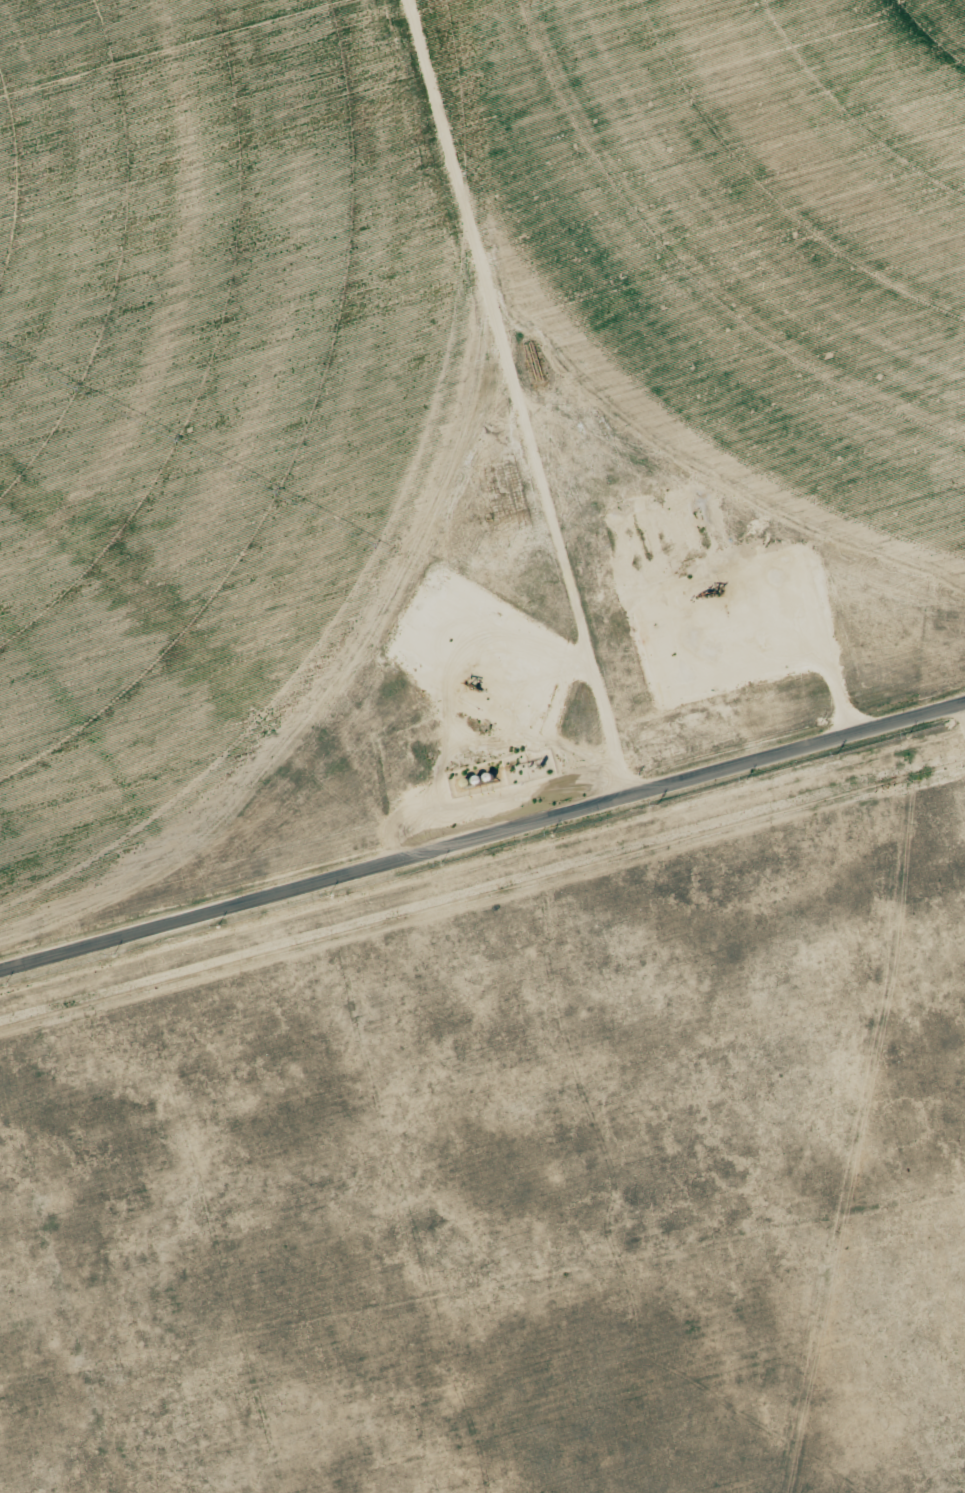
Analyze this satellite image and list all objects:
petroleum well: (712, 588)
petroleum well: (471, 683)
road: (482, 830)

